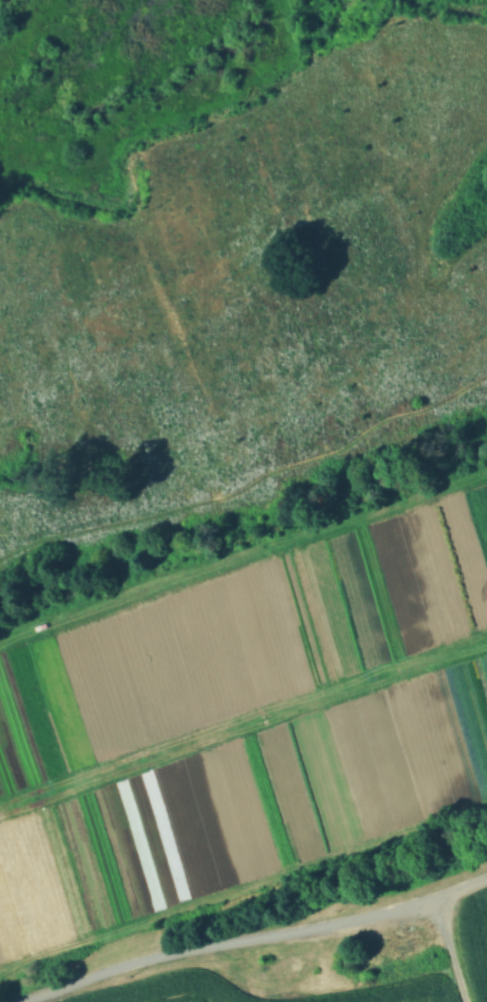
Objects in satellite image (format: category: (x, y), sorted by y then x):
park: (236, 460)
building: (397, 769)
road: (256, 938)
building: (392, 950)
crop: (355, 958)
building: (344, 976)

